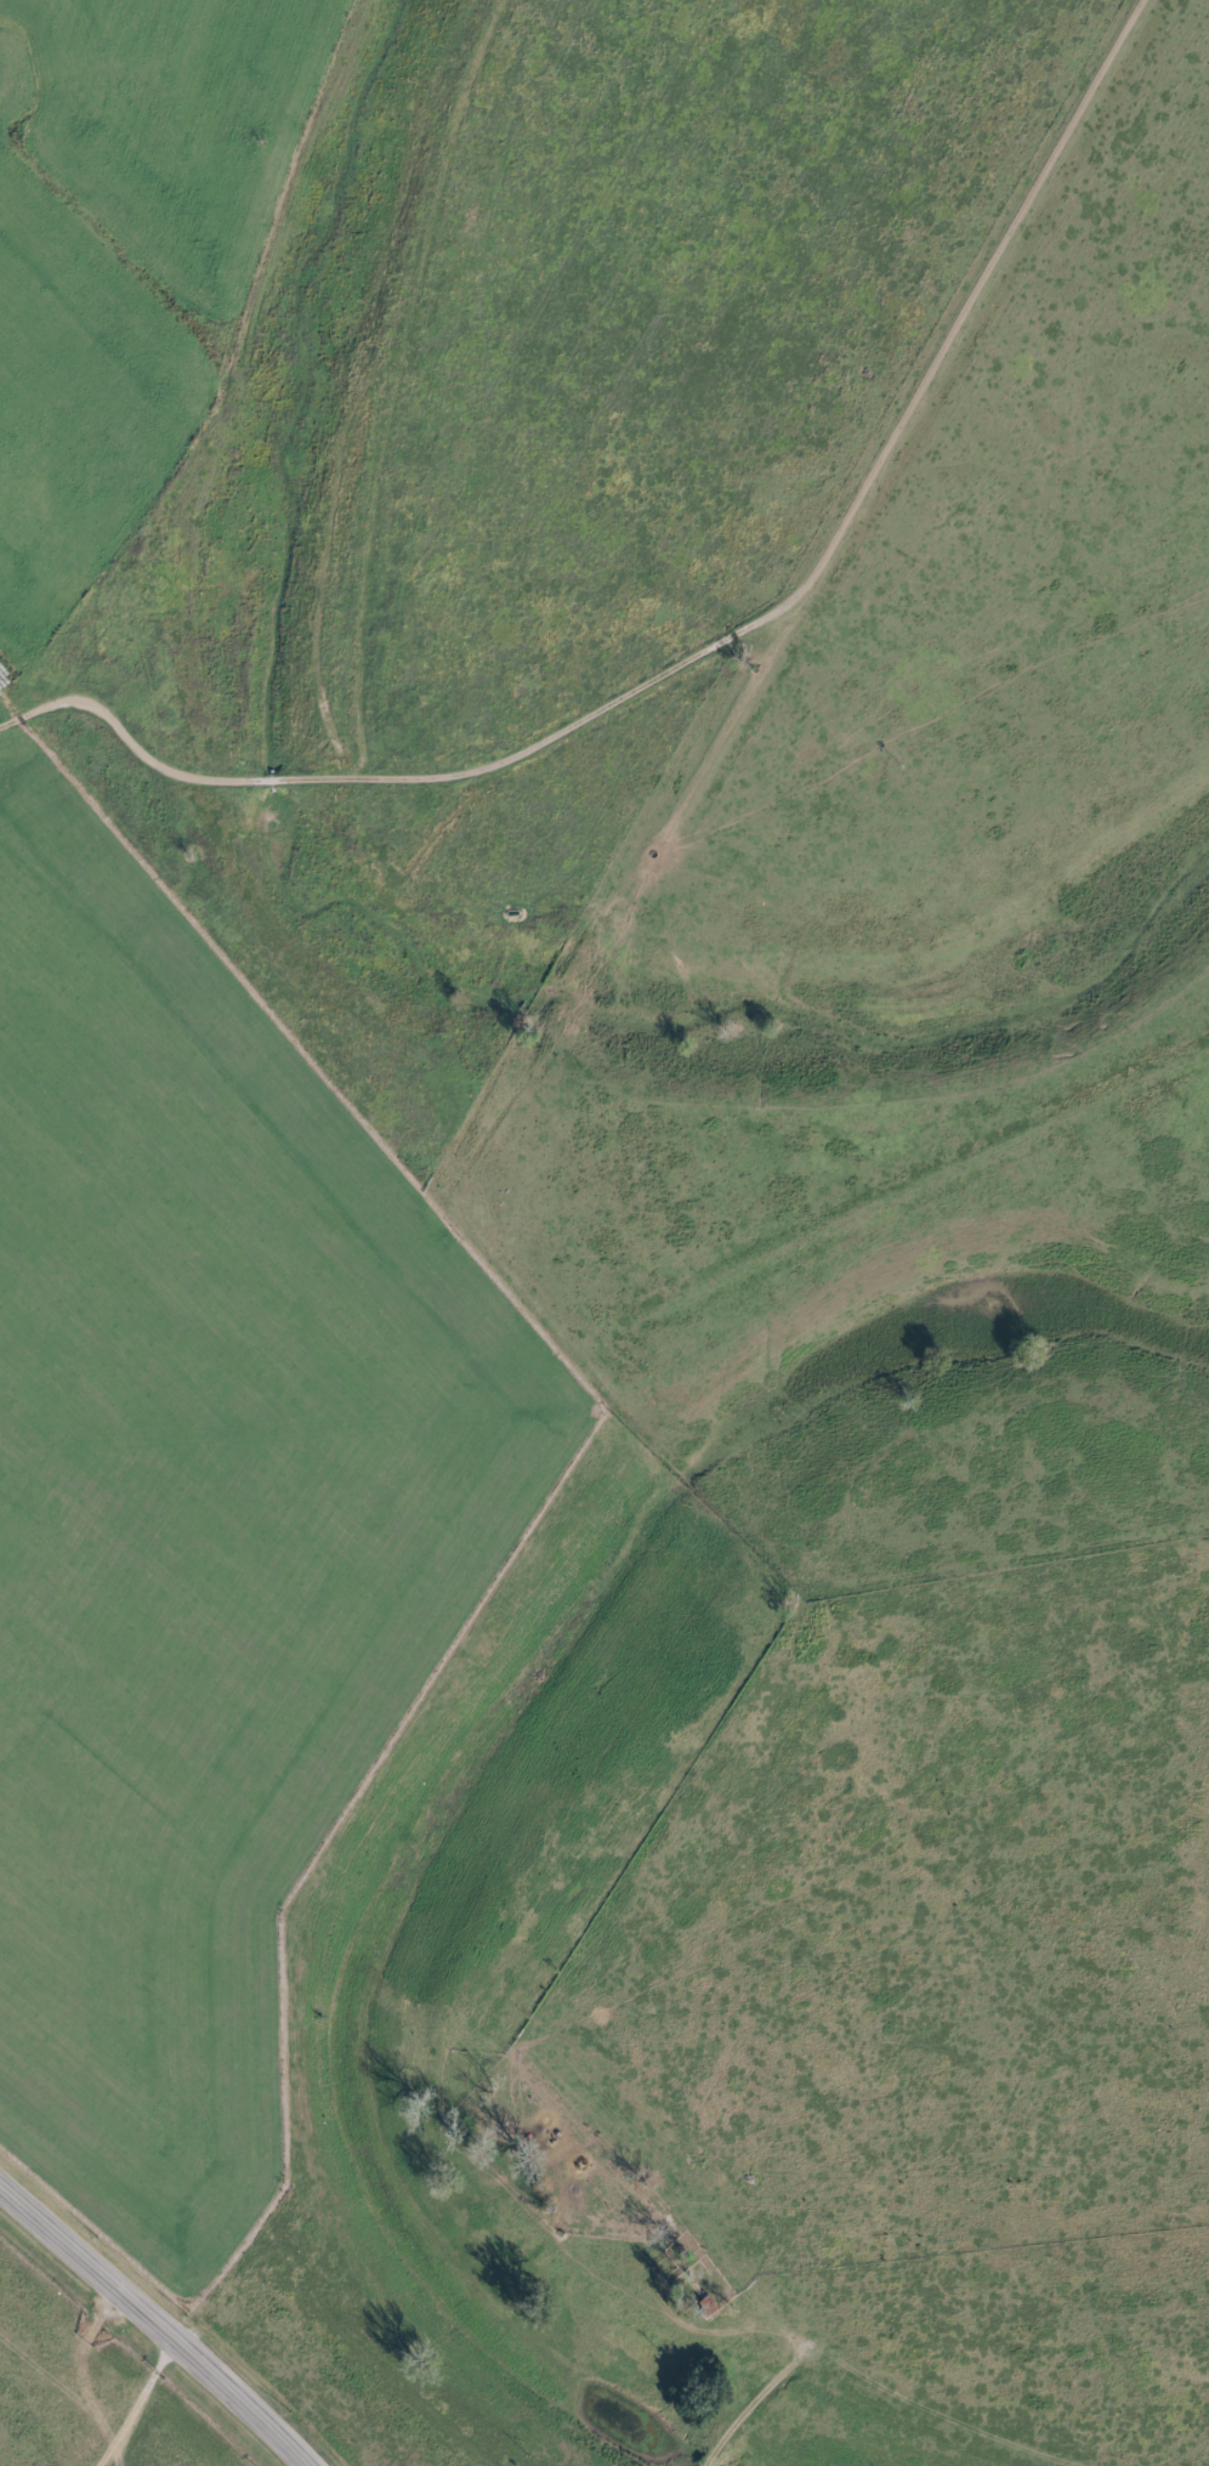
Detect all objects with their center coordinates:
railway: (212, 2245)
road: (158, 2314)
road: (174, 2365)

